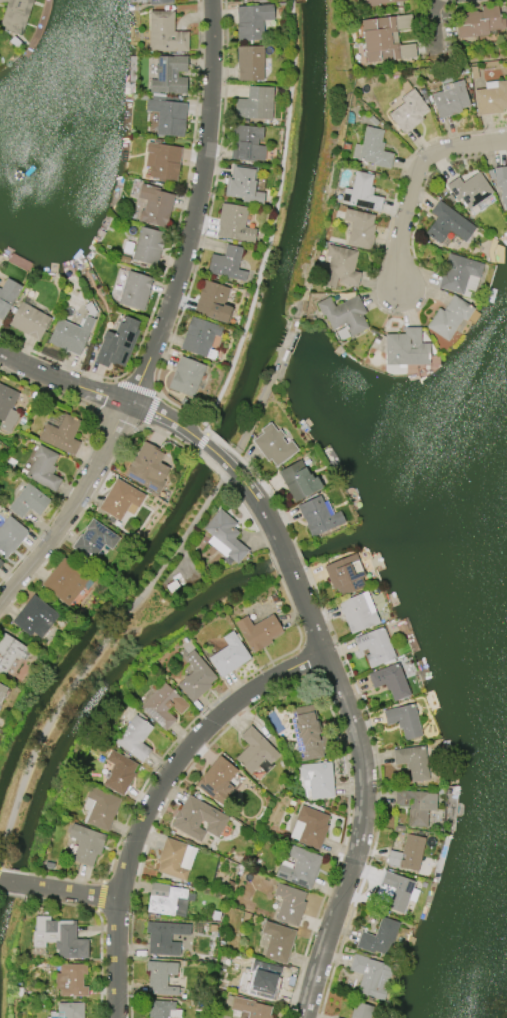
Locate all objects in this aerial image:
building: (159, 2)
building: (376, 2)
building: (14, 15)
building: (252, 21)
building: (479, 22)
building: (164, 33)
building: (385, 39)
building: (250, 63)
building: (168, 75)
building: (491, 98)
building: (450, 99)
building: (254, 104)
building: (408, 111)
building: (167, 117)
building: (245, 144)
building: (371, 149)
building: (162, 162)
road: (413, 177)
building: (501, 183)
building: (241, 185)
building: (469, 189)
building: (361, 193)
building: (154, 205)
road: (272, 218)
building: (233, 224)
building: (447, 224)
building: (359, 229)
road: (205, 230)
building: (148, 245)
building: (226, 263)
building: (340, 267)
building: (457, 273)
building: (135, 290)
building: (7, 295)
building: (212, 301)
road: (382, 309)
building: (343, 314)
building: (449, 317)
building: (29, 320)
road: (161, 320)
building: (70, 335)
building: (199, 337)
building: (116, 343)
building: (406, 347)
building: (185, 376)
road: (136, 387)
road: (99, 392)
building: (7, 408)
road: (255, 409)
road: (150, 411)
road: (204, 429)
road: (206, 432)
building: (61, 434)
road: (162, 434)
road: (218, 440)
road: (201, 441)
building: (273, 445)
road: (209, 449)
road: (193, 450)
road: (236, 454)
road: (84, 458)
road: (207, 461)
building: (147, 467)
building: (43, 469)
road: (222, 475)
building: (298, 480)
road: (256, 499)
road: (275, 499)
building: (120, 500)
building: (27, 501)
road: (249, 514)
building: (317, 516)
road: (71, 528)
building: (10, 536)
building: (224, 537)
building: (94, 540)
road: (299, 555)
road: (286, 558)
building: (0, 563)
road: (274, 564)
building: (344, 574)
building: (65, 581)
building: (357, 612)
building: (34, 617)
building: (258, 631)
building: (374, 646)
building: (10, 651)
building: (229, 655)
road: (93, 657)
building: (195, 677)
building: (390, 681)
road: (282, 688)
building: (2, 691)
building: (163, 705)
road: (198, 714)
building: (404, 720)
building: (305, 733)
building: (132, 736)
building: (255, 751)
building: (413, 762)
building: (119, 772)
building: (318, 779)
building: (216, 780)
road: (379, 789)
road: (363, 792)
road: (153, 797)
building: (416, 805)
building: (99, 808)
building: (198, 818)
building: (309, 827)
building: (86, 844)
building: (407, 854)
building: (172, 859)
building: (300, 867)
road: (1, 868)
road: (15, 870)
road: (65, 879)
road: (12, 881)
road: (71, 890)
building: (394, 892)
road: (12, 894)
road: (100, 896)
building: (164, 898)
road: (61, 903)
building: (289, 904)
road: (95, 928)
building: (59, 937)
building: (164, 937)
building: (379, 937)
building: (277, 942)
road: (100, 964)
building: (370, 975)
building: (161, 977)
building: (70, 980)
building: (266, 980)
road: (101, 992)
building: (159, 1008)
building: (250, 1008)
building: (67, 1010)
building: (361, 1010)
building: (337, 1017)

